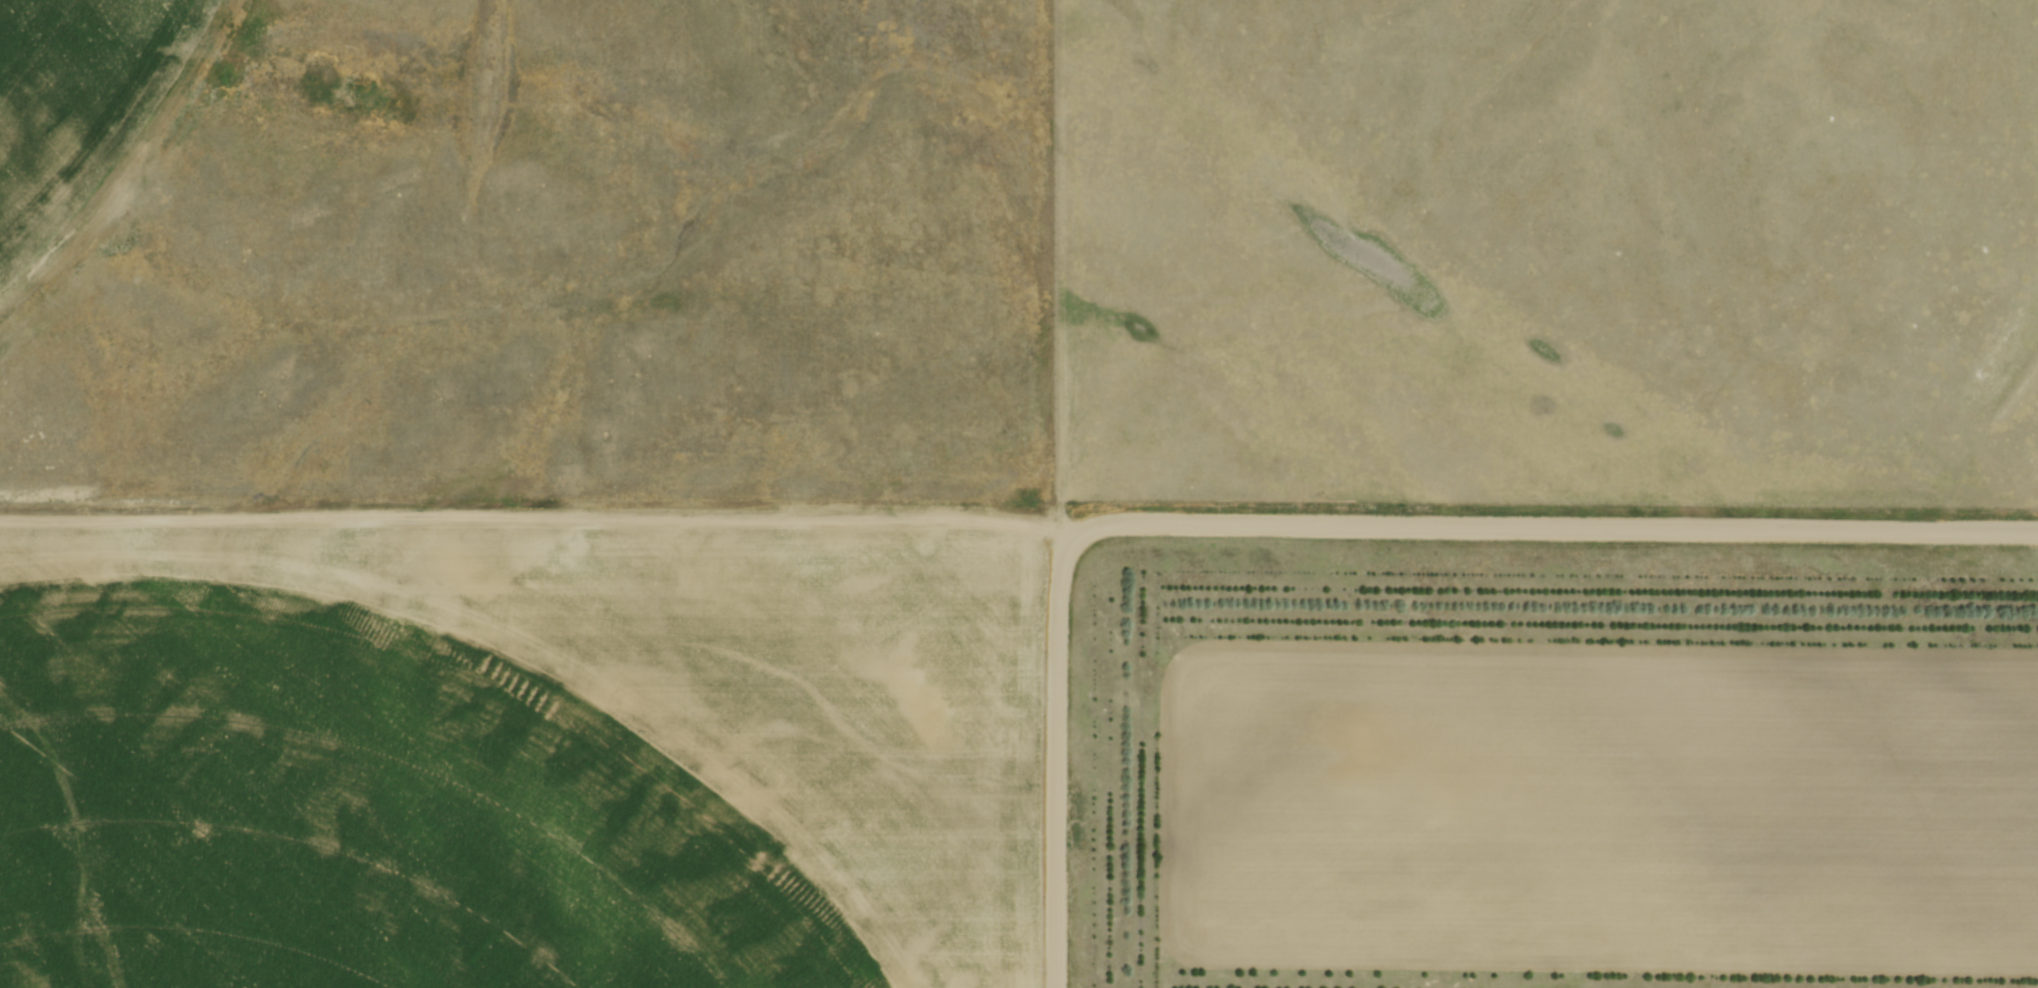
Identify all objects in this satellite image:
crop: (85, 112)
road: (1553, 527)
crop: (522, 756)
road: (1053, 763)
crop: (1601, 821)

